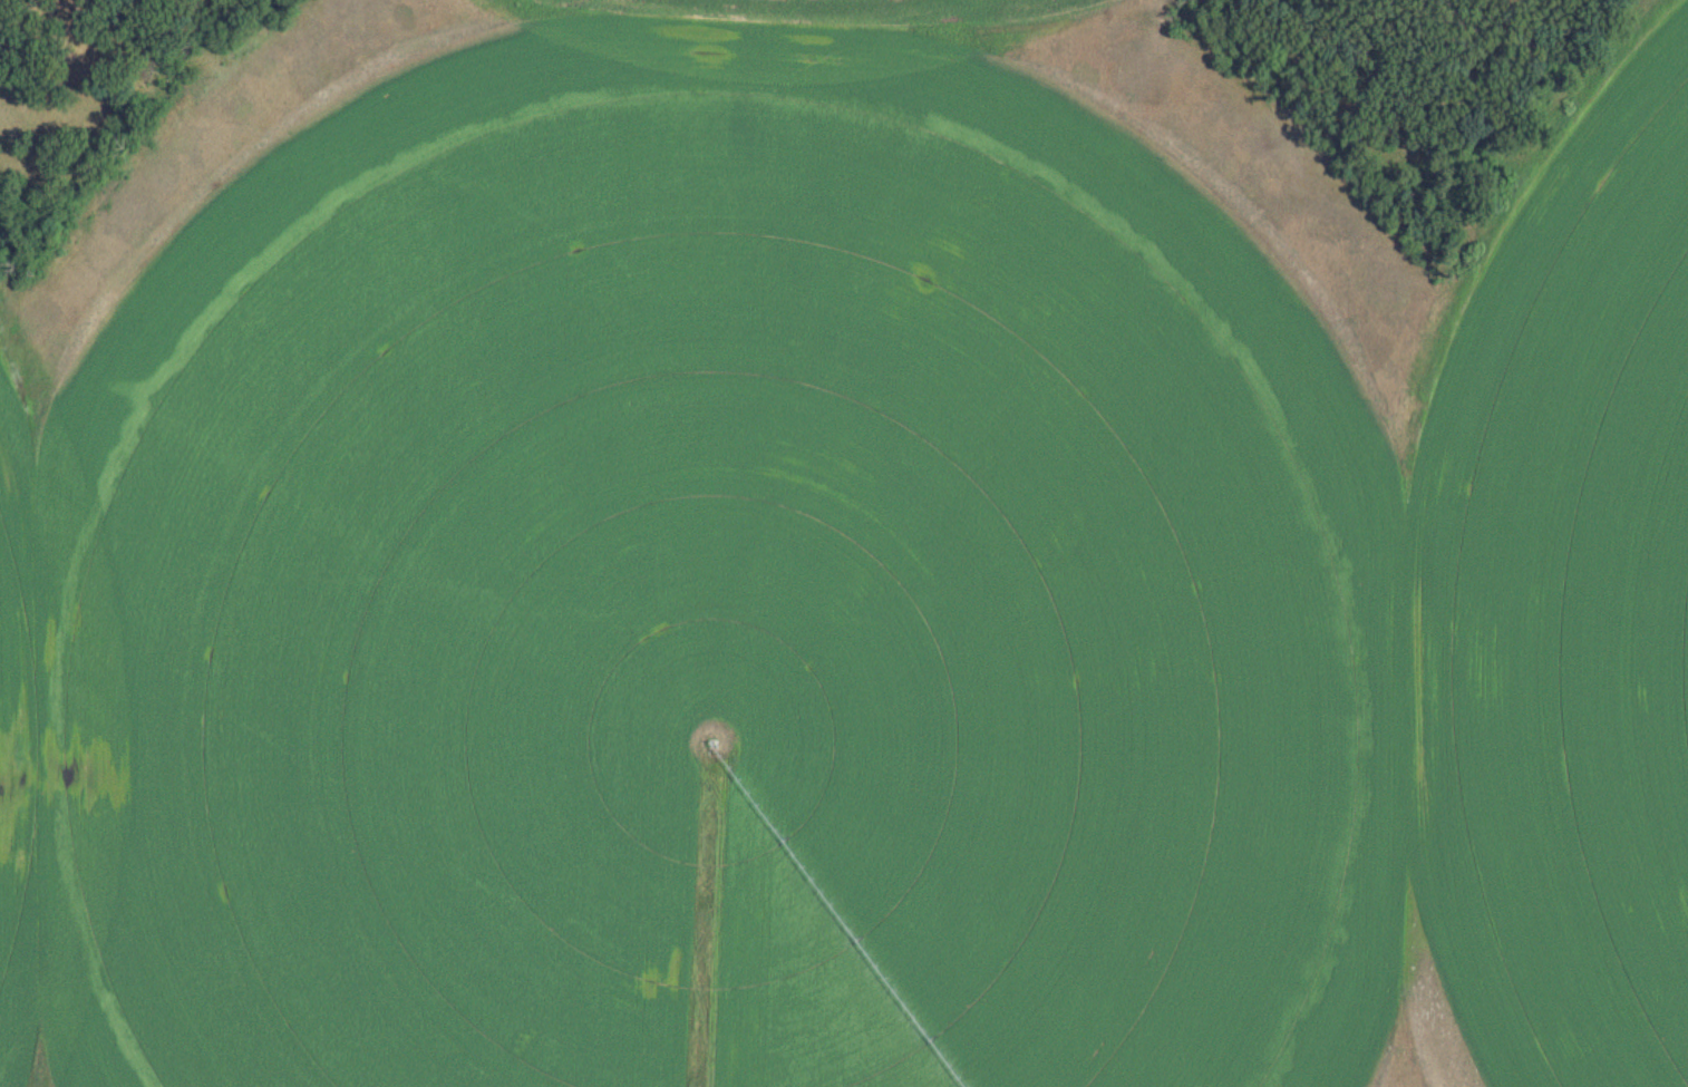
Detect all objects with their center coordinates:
wastewater plant: (844, 543)

